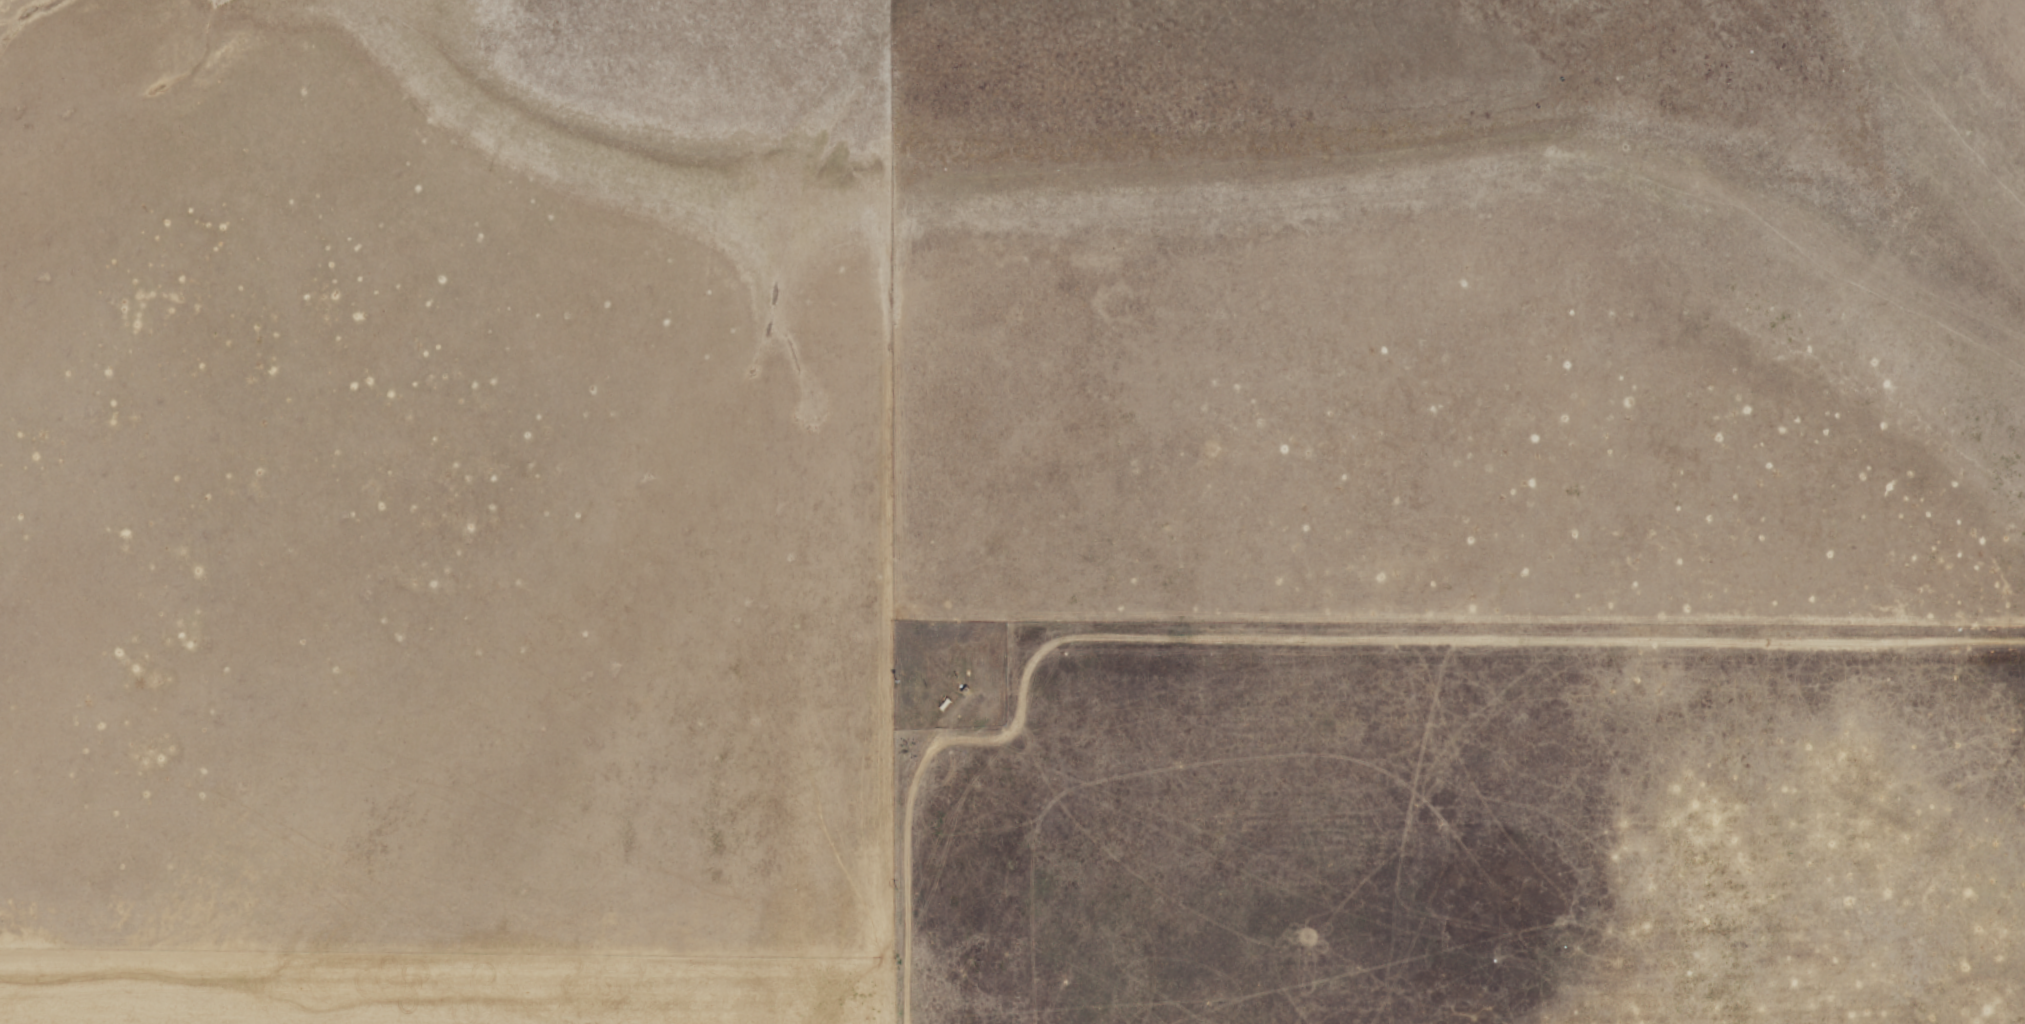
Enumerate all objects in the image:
road: (1436, 617)
road: (1525, 808)

